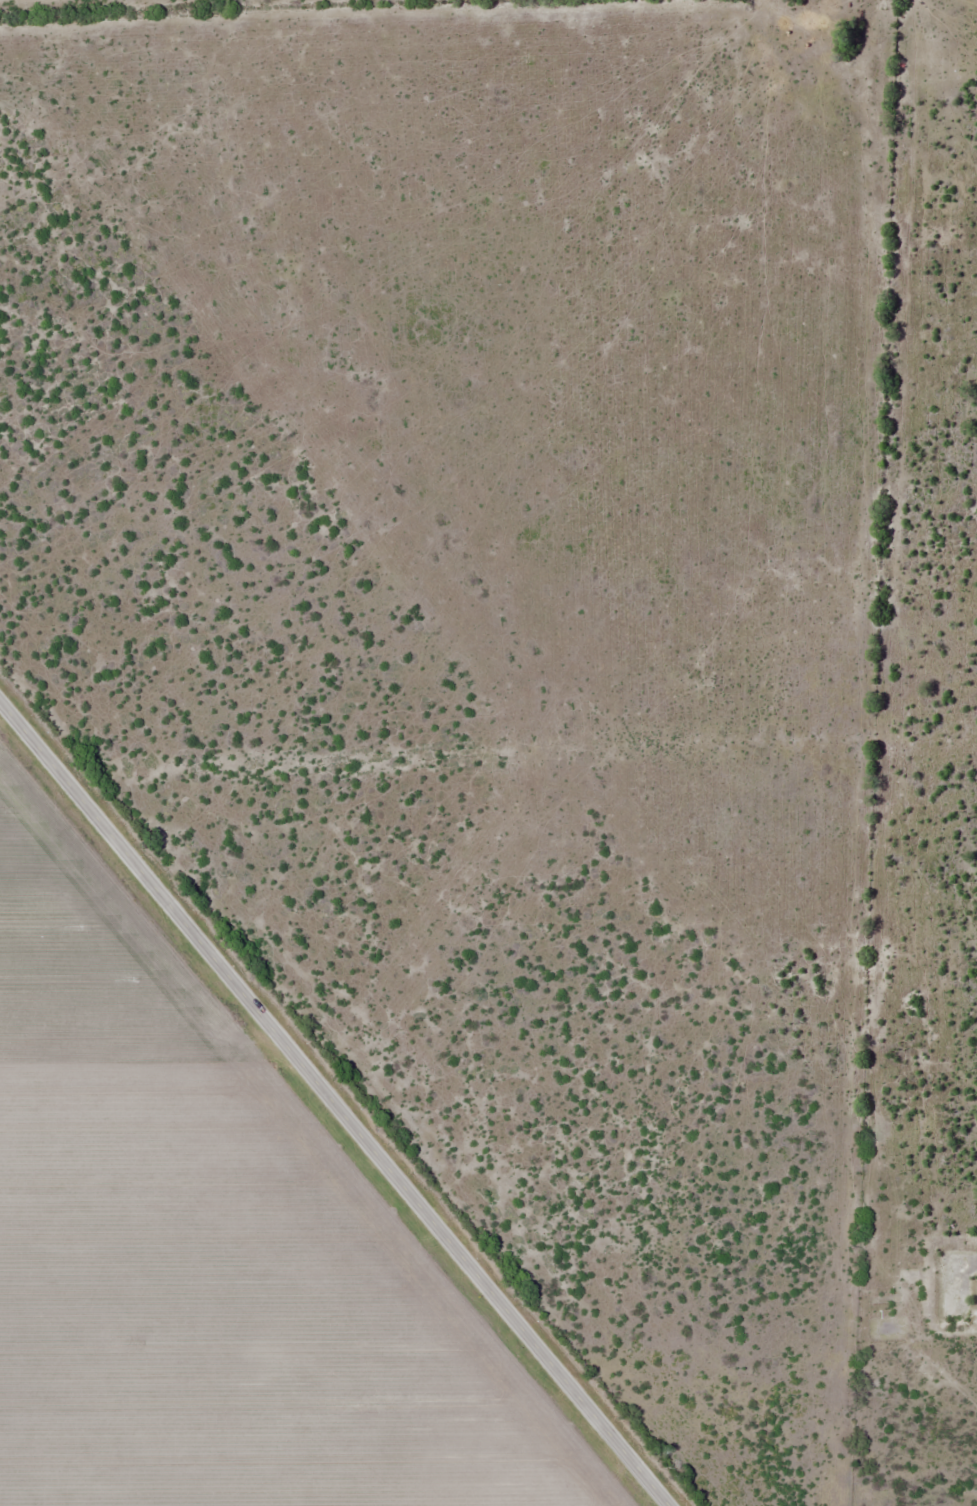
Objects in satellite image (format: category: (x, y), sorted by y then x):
road: (333, 1105)

